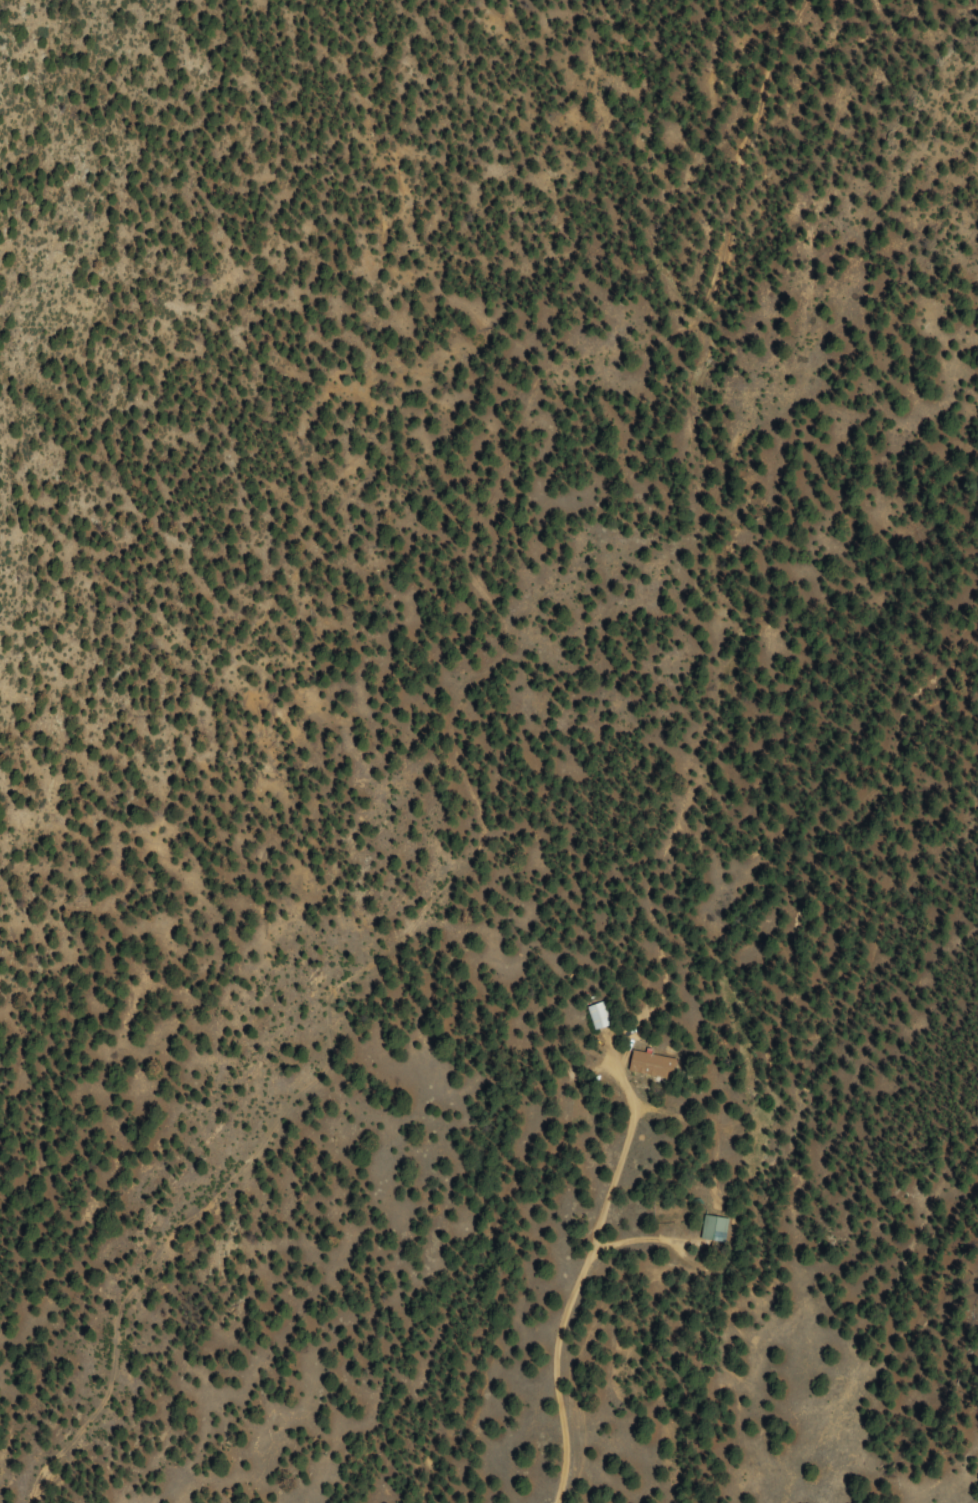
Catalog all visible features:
building: (598, 1015)
building: (651, 1064)
building: (714, 1228)

